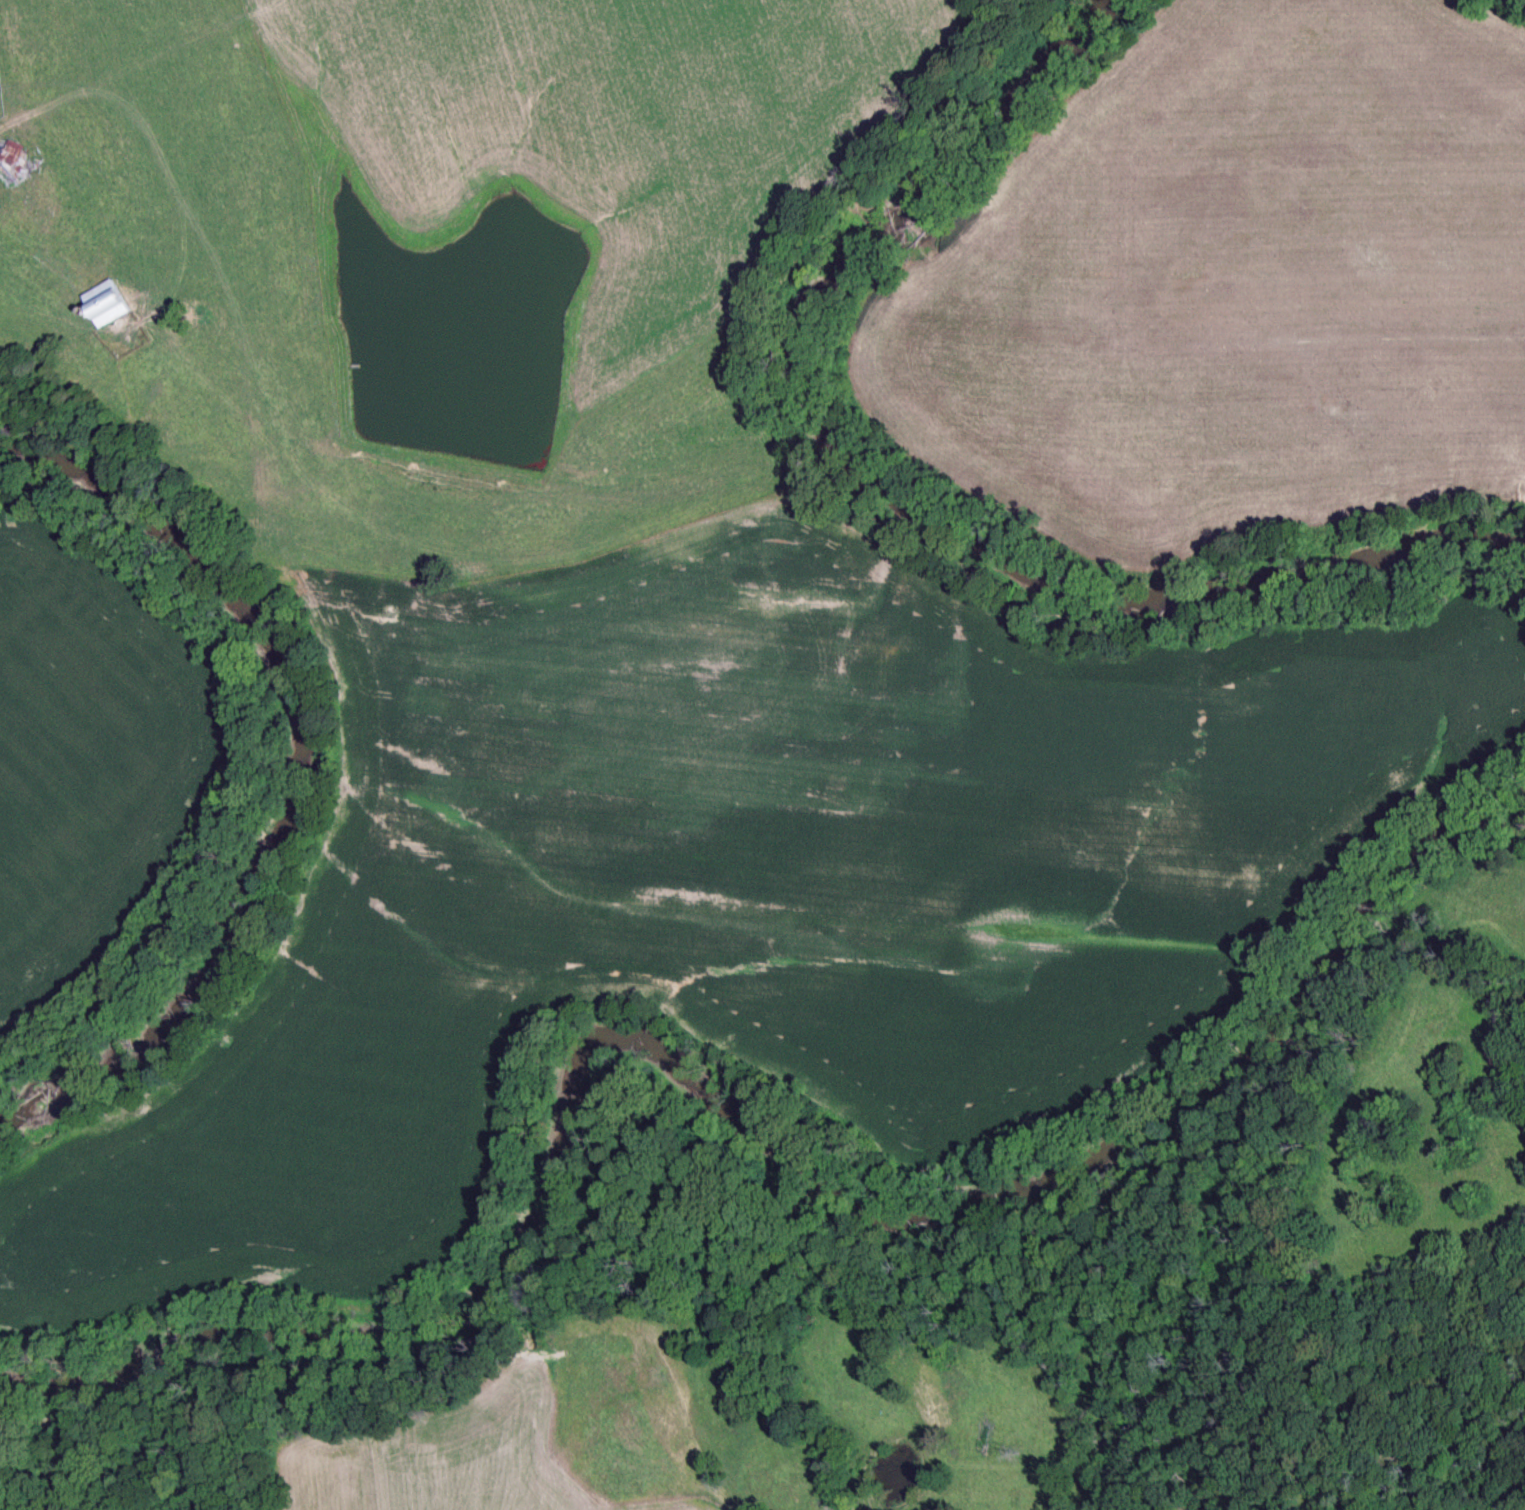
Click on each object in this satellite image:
building: (8, 171)
building: (104, 305)
river: (910, 490)
river: (277, 769)
river: (733, 1111)

